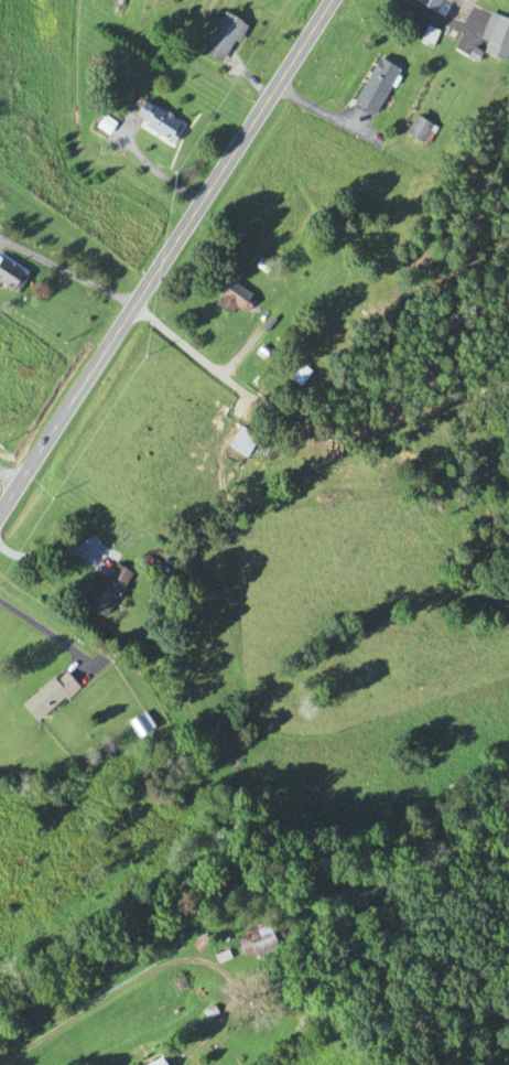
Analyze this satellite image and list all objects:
building: (443, 0)
building: (220, 39)
building: (494, 41)
building: (373, 87)
building: (156, 123)
building: (418, 130)
road: (156, 172)
road: (166, 257)
road: (66, 273)
building: (10, 279)
building: (230, 301)
road: (304, 412)
building: (241, 442)
road: (9, 480)
building: (104, 591)
road: (42, 631)
building: (47, 696)
building: (139, 724)
building: (258, 939)
road: (102, 1000)
building: (154, 1062)

